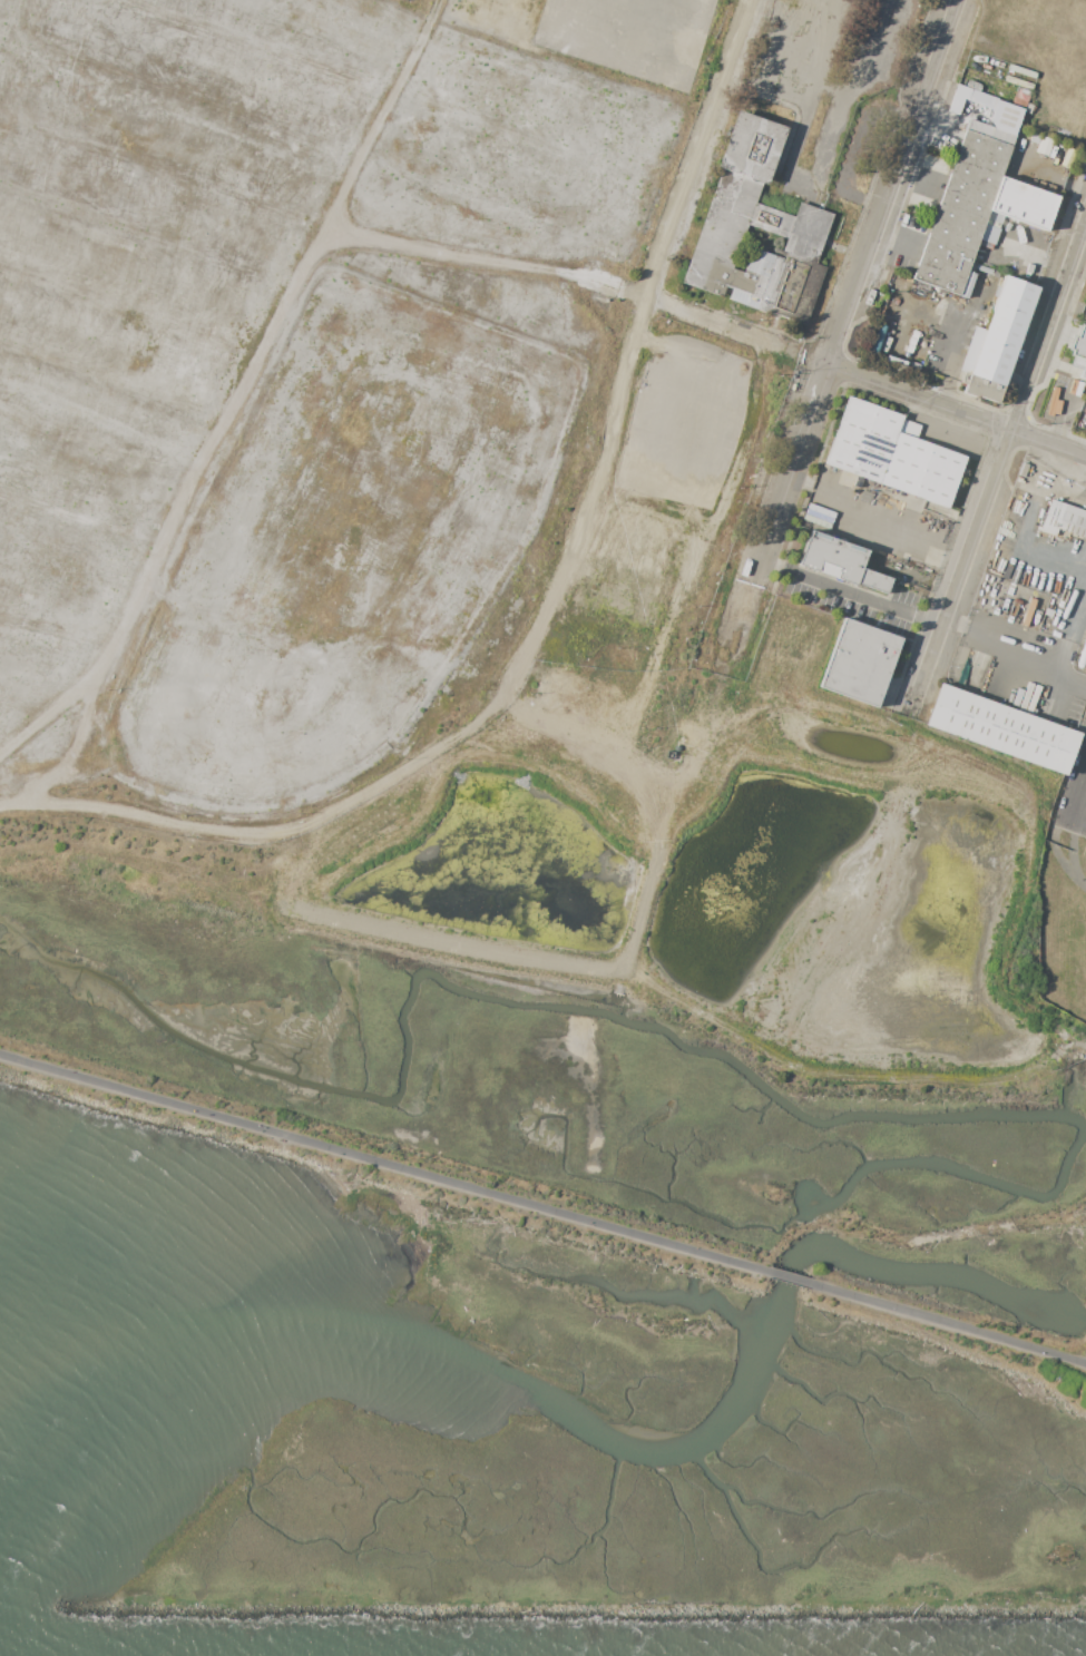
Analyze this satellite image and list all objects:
road: (820, 50)
road: (773, 62)
building: (974, 85)
building: (1020, 99)
building: (1008, 118)
building: (990, 133)
road: (828, 148)
road: (843, 174)
road: (914, 179)
building: (976, 210)
building: (749, 221)
road: (894, 241)
road: (1030, 256)
road: (728, 329)
road: (834, 335)
building: (1000, 339)
building: (1078, 351)
road: (237, 403)
road: (948, 406)
road: (1057, 422)
building: (909, 429)
building: (892, 454)
road: (996, 463)
building: (1064, 520)
road: (865, 530)
building: (841, 561)
road: (848, 590)
road: (546, 606)
building: (860, 663)
road: (1046, 673)
building: (1017, 700)
building: (1002, 729)
road: (1085, 782)
road: (1073, 833)
park: (330, 1153)
road: (381, 1165)
road: (789, 1281)
road: (950, 1329)
park: (958, 1337)
road: (961, 1346)

